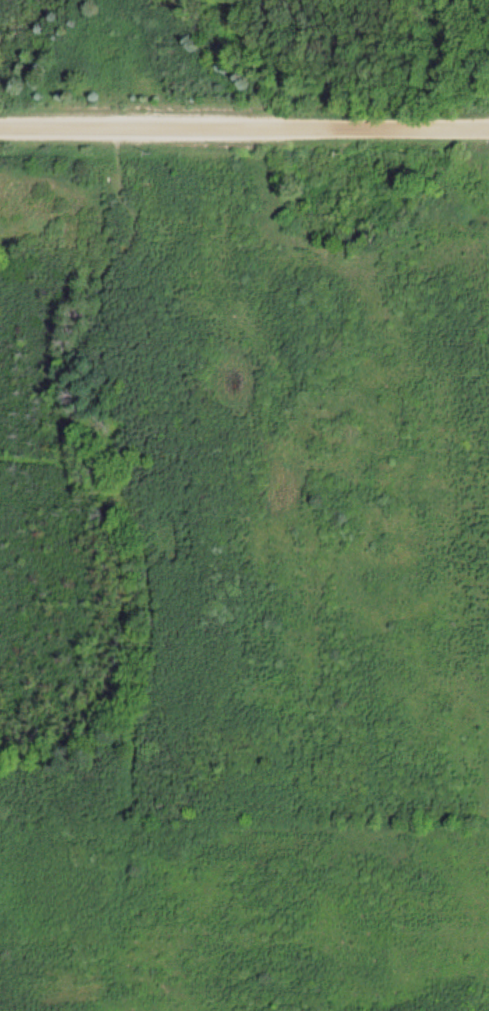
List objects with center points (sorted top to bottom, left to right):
road: (244, 124)

